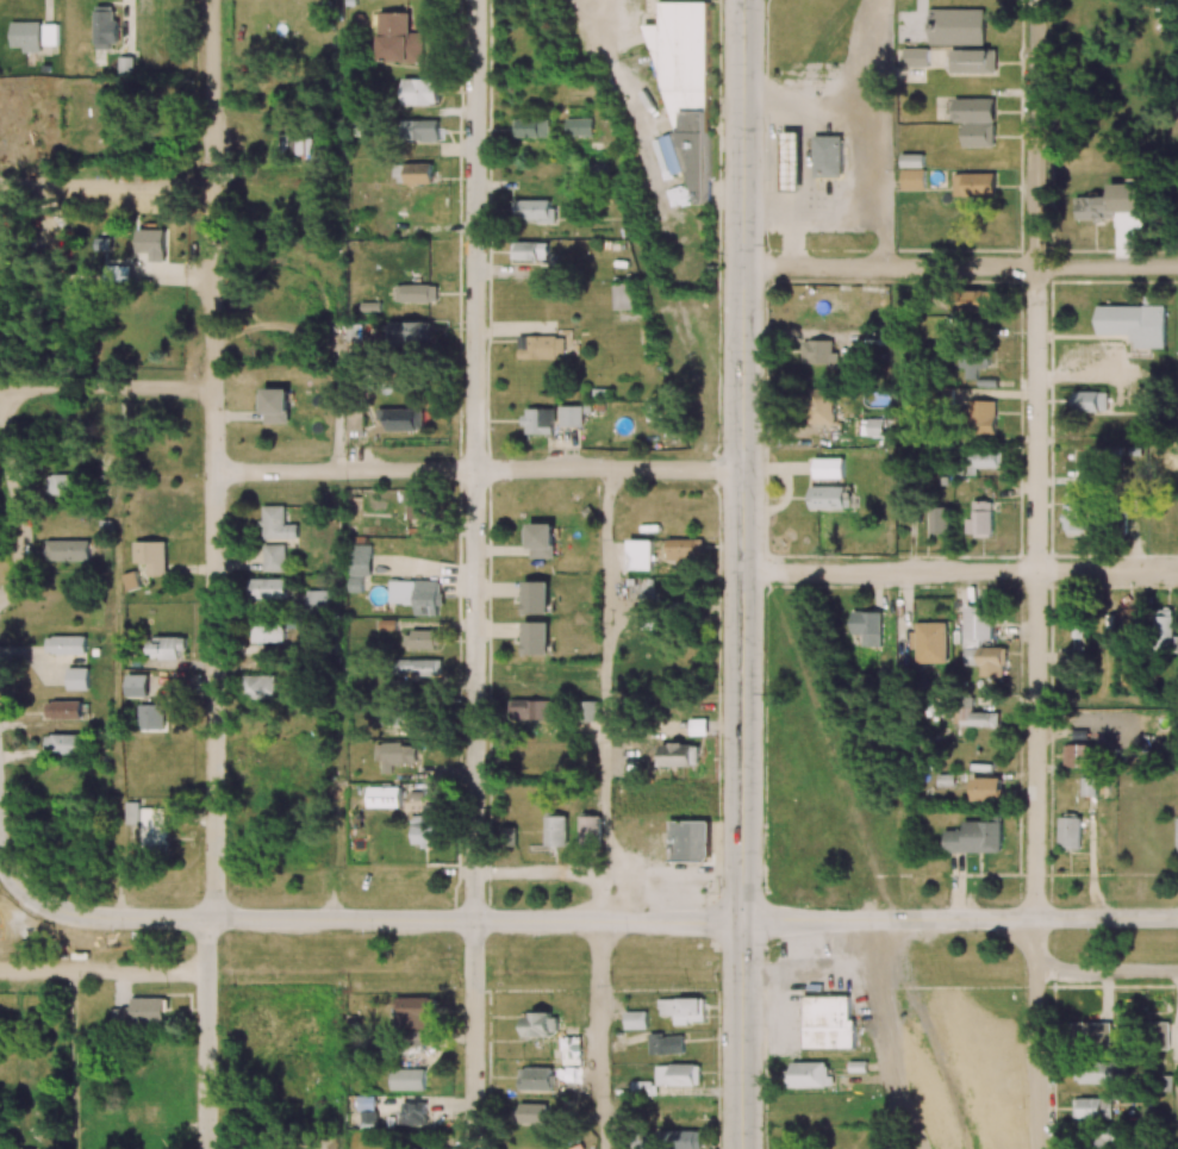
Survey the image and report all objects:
building: (105, 26)
building: (956, 26)
building: (49, 33)
building: (26, 36)
building: (399, 38)
road: (867, 55)
building: (920, 56)
building: (973, 61)
building: (125, 67)
building: (420, 90)
building: (168, 93)
road: (866, 120)
building: (977, 120)
building: (111, 126)
building: (531, 126)
building: (579, 126)
building: (422, 130)
building: (295, 140)
road: (777, 143)
building: (828, 156)
building: (912, 160)
building: (792, 161)
building: (419, 174)
building: (914, 179)
building: (974, 183)
road: (107, 186)
building: (1109, 202)
building: (532, 211)
road: (840, 217)
road: (767, 223)
building: (151, 241)
building: (529, 250)
building: (104, 256)
road: (960, 267)
building: (417, 293)
building: (622, 295)
building: (823, 300)
building: (972, 302)
building: (370, 306)
building: (1134, 324)
building: (410, 331)
building: (541, 346)
building: (818, 351)
building: (973, 364)
road: (107, 386)
building: (1090, 401)
building: (276, 405)
building: (822, 406)
building: (571, 416)
building: (983, 417)
building: (403, 418)
building: (355, 419)
building: (538, 420)
building: (873, 426)
road: (214, 458)
road: (1036, 458)
road: (475, 460)
building: (984, 460)
building: (828, 468)
road: (478, 470)
building: (1085, 479)
building: (62, 483)
road: (17, 499)
building: (419, 507)
building: (1076, 513)
building: (940, 519)
building: (979, 519)
building: (275, 524)
building: (540, 539)
building: (67, 550)
building: (684, 550)
building: (641, 554)
building: (151, 556)
building: (274, 557)
building: (360, 560)
road: (960, 572)
road: (743, 574)
building: (355, 585)
building: (269, 588)
building: (640, 588)
building: (416, 595)
building: (536, 597)
building: (320, 600)
building: (1130, 618)
building: (866, 626)
building: (1165, 626)
building: (267, 630)
building: (536, 637)
building: (418, 639)
building: (930, 642)
building: (972, 642)
building: (67, 644)
building: (167, 647)
road: (119, 652)
building: (419, 667)
building: (77, 679)
building: (136, 685)
building: (258, 686)
road: (604, 695)
building: (63, 710)
building: (530, 710)
building: (590, 711)
building: (976, 716)
building: (151, 717)
building: (386, 717)
building: (698, 726)
building: (67, 743)
building: (393, 755)
building: (679, 755)
building: (1077, 755)
building: (1089, 786)
building: (986, 788)
building: (131, 812)
building: (429, 826)
building: (152, 828)
building: (555, 830)
building: (590, 830)
building: (1070, 831)
building: (1177, 833)
building: (974, 837)
building: (690, 841)
road: (573, 920)
road: (949, 969)
road: (1108, 969)
road: (104, 970)
road: (803, 970)
road: (475, 972)
building: (681, 1010)
building: (415, 1011)
building: (141, 1012)
building: (635, 1019)
building: (828, 1023)
building: (541, 1024)
road: (207, 1032)
building: (1090, 1032)
road: (1037, 1034)
road: (474, 1035)
road: (603, 1035)
building: (1161, 1035)
road: (880, 1037)
building: (667, 1044)
building: (571, 1050)
road: (74, 1060)
building: (1097, 1073)
building: (809, 1074)
building: (677, 1075)
building: (407, 1079)
building: (535, 1079)
building: (1092, 1107)
building: (367, 1110)
building: (415, 1113)
building: (530, 1113)
building: (679, 1139)

